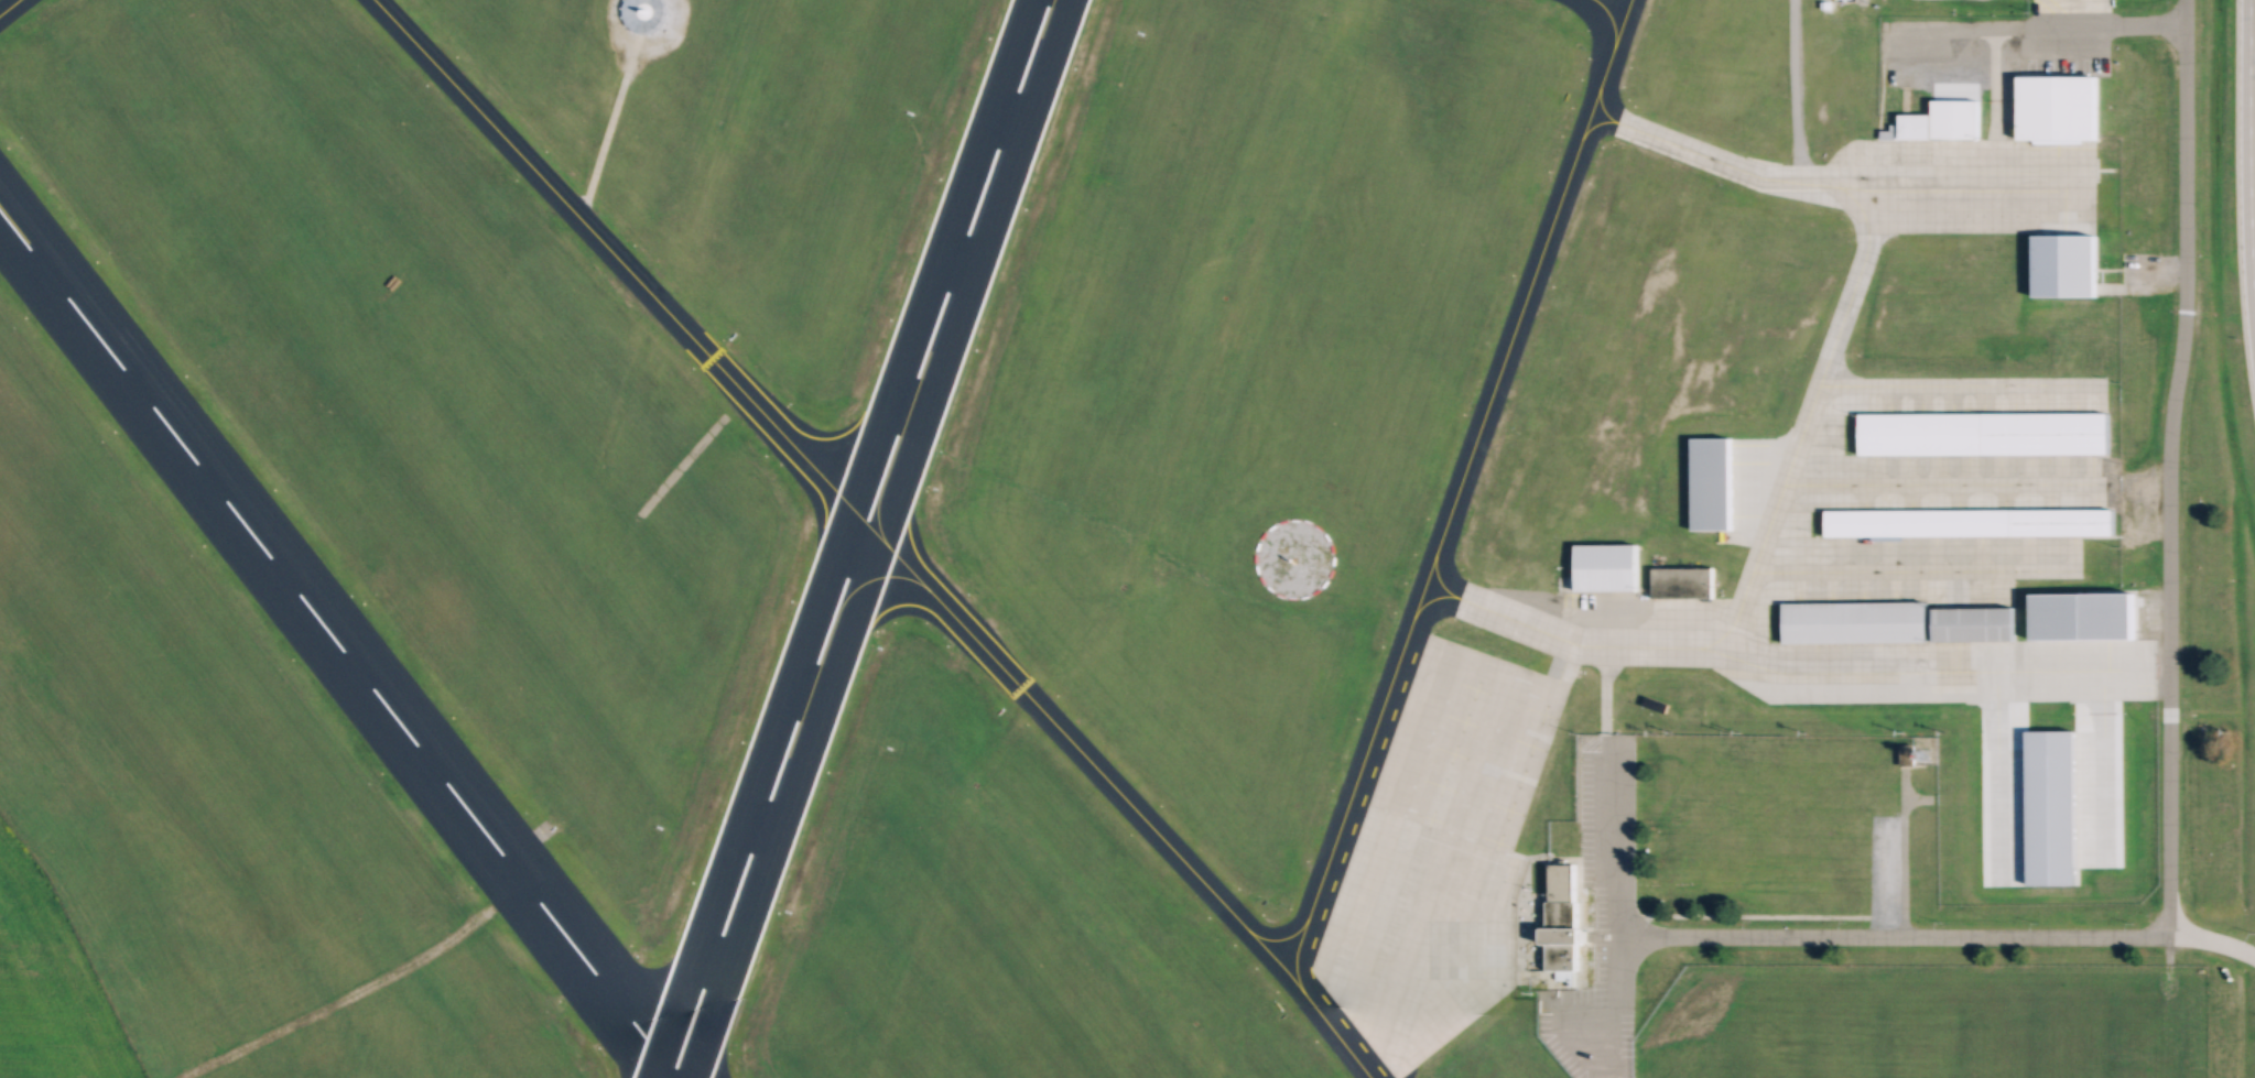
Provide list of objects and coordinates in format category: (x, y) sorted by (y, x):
airport taxiway: (6, 4)
airport taxiway: (1603, 23)
road: (2029, 25)
road: (1790, 91)
building: (2055, 107)
building: (1953, 119)
building: (1914, 126)
building: (1888, 132)
road: (2247, 168)
airport taxiway: (1830, 186)
airport apron: (1967, 186)
building: (2061, 258)
airport taxiway: (617, 261)
airport taxiway: (1951, 383)
building: (1921, 433)
building: (2046, 433)
road: (2165, 468)
airport taxiway: (1930, 482)
building: (1709, 483)
airport taxiway: (1453, 490)
building: (1918, 521)
building: (2062, 521)
airport runway: (856, 538)
airport: (1124, 538)
airport taxiway: (1753, 557)
building: (1603, 564)
airport taxiway: (1899, 569)
building: (1677, 581)
building: (2086, 617)
building: (1855, 621)
building: (1976, 623)
airport runway: (336, 647)
airport taxiway: (1561, 660)
airport taxiway: (1912, 672)
building: (1904, 754)
airport taxiway: (1119, 796)
road: (1899, 852)
airport apron: (1440, 857)
road: (1617, 900)
airport terminal: (1558, 918)
building: (1558, 918)
parking lot: (1597, 921)
road: (1890, 936)
road: (2211, 940)
airport taxiway: (1293, 963)
road: (353, 990)

